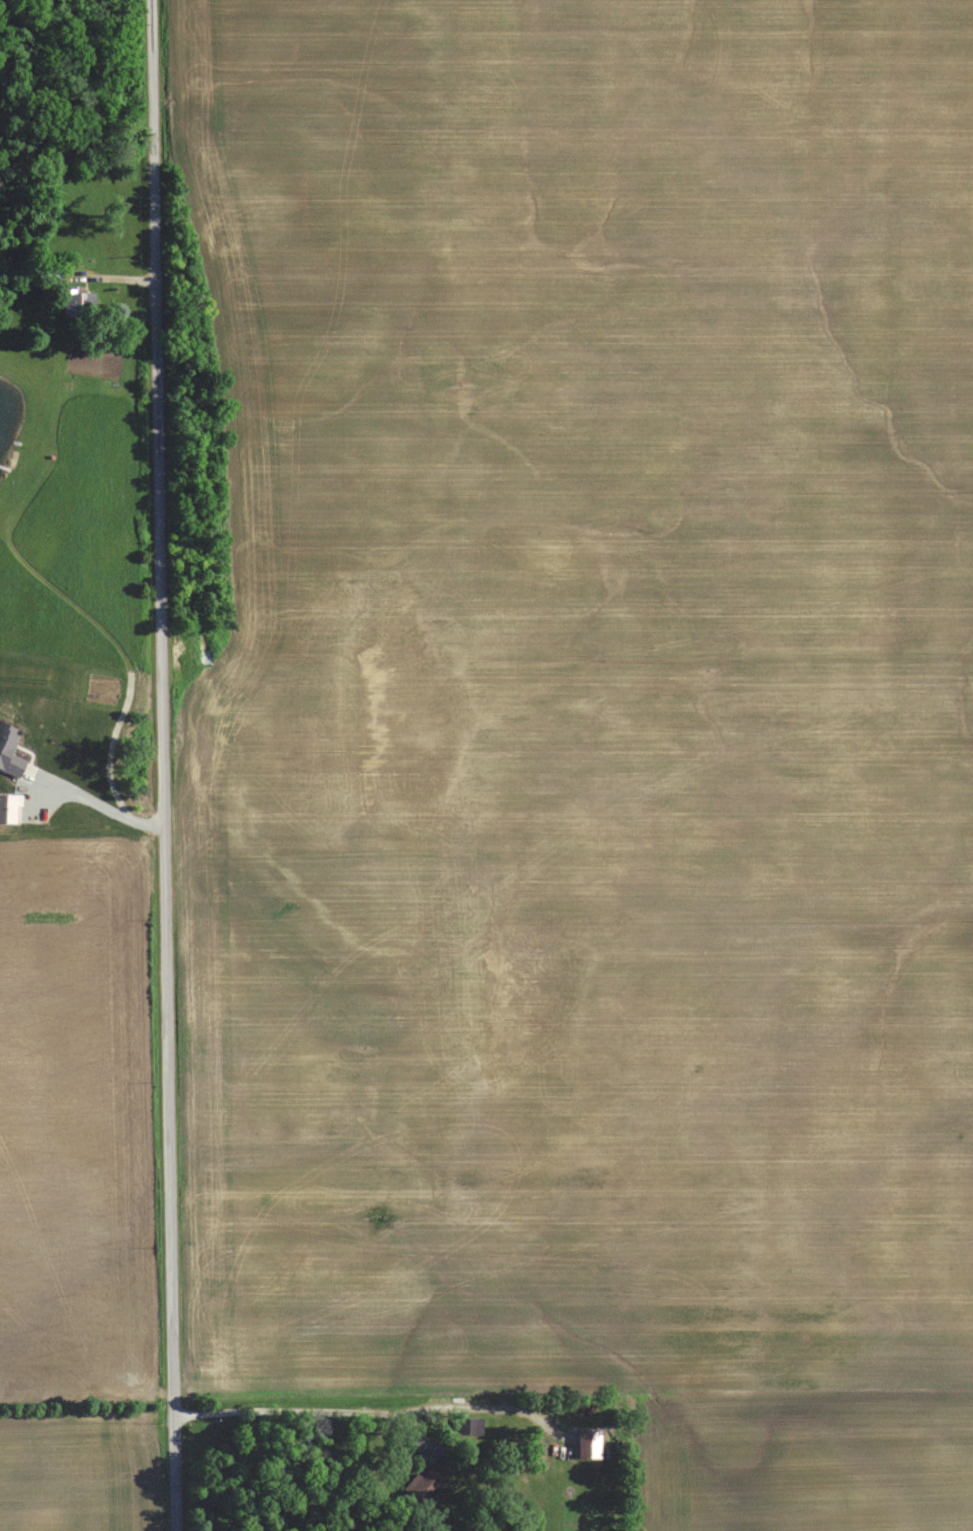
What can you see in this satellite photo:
road: (159, 765)
road: (97, 808)
road: (301, 1412)

